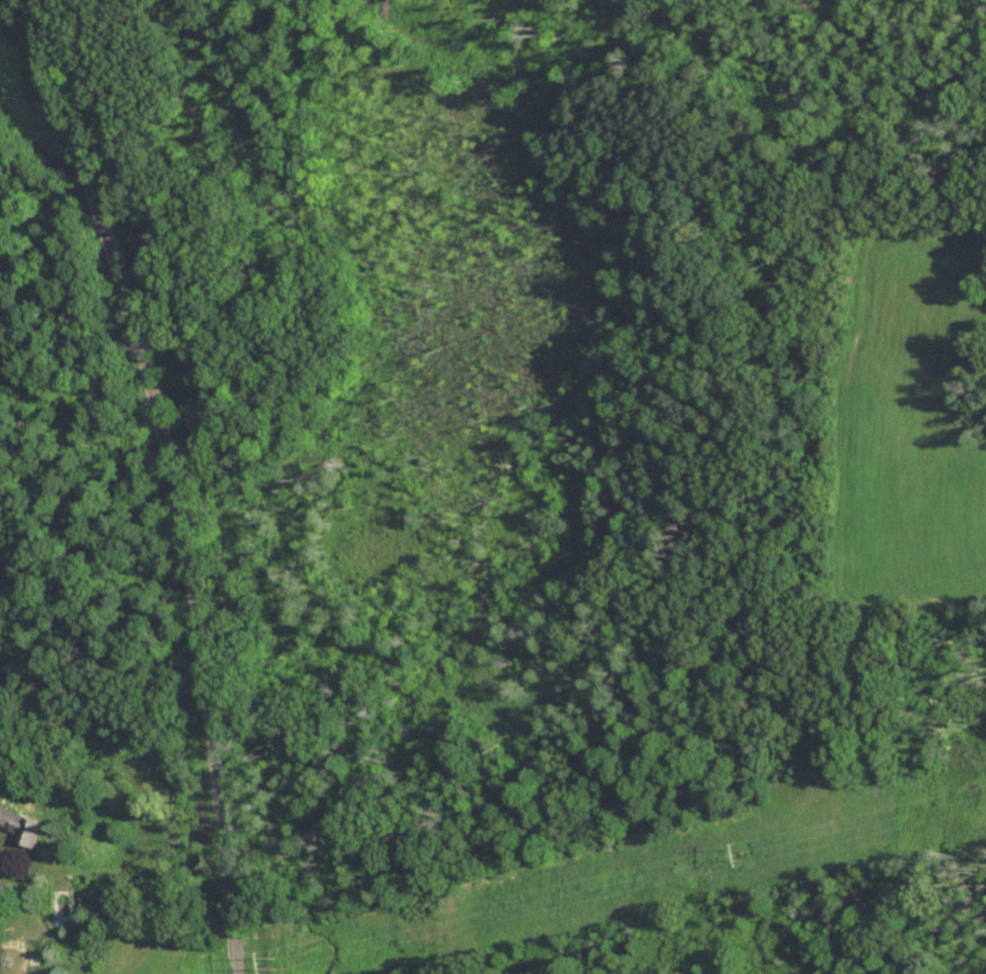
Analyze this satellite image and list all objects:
road: (170, 474)
building: (22, 829)

